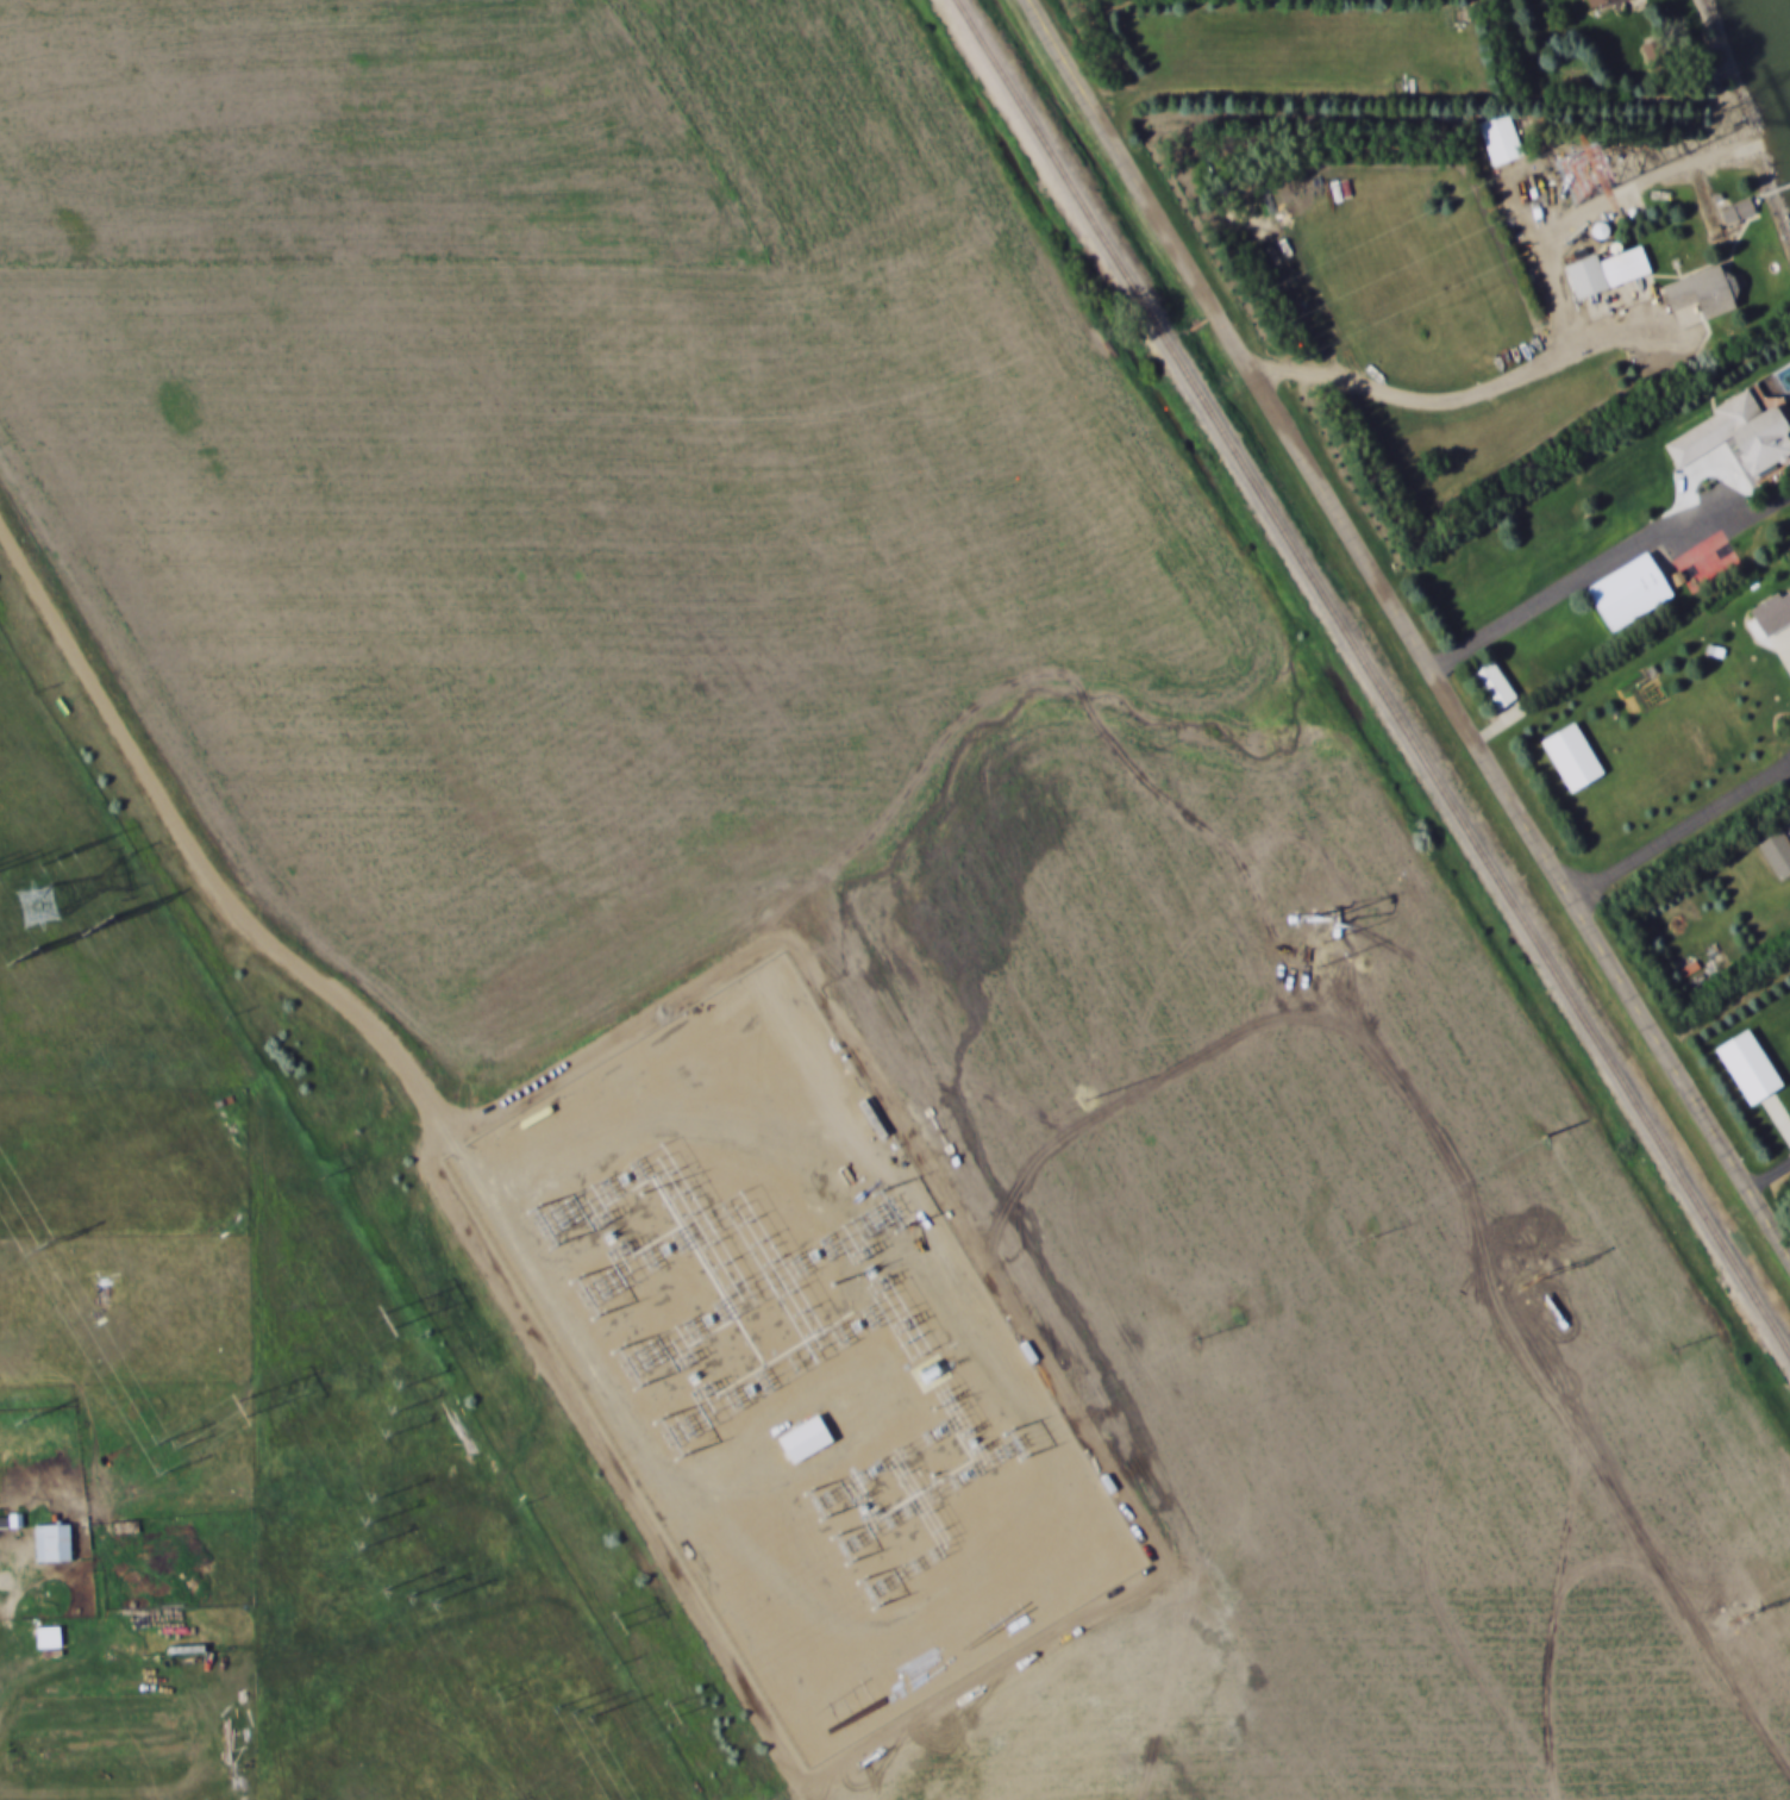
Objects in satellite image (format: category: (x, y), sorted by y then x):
building: (1601, 2)
building: (1660, 58)
road: (1282, 88)
building: (1502, 140)
power tower: (1592, 171)
building: (1741, 212)
building: (1609, 273)
building: (1707, 293)
road: (1471, 396)
building: (1741, 436)
road: (1584, 577)
building: (1633, 593)
building: (1775, 617)
road: (1408, 623)
railway: (1370, 685)
building: (1496, 687)
building: (1571, 758)
road: (1683, 835)
building: (1777, 855)
power tower: (60, 856)
power tower: (40, 908)
power tower: (101, 929)
power tower: (26, 960)
road: (1730, 1014)
building: (1747, 1068)
power tower: (1547, 1139)
power tower: (43, 1248)
power tower: (388, 1317)
power substation: (794, 1363)
power tower: (243, 1406)
power tower: (394, 1413)
power tower: (31, 1420)
building: (803, 1440)
power tower: (165, 1456)
power tower: (367, 1524)
building: (55, 1543)
power tower: (411, 1599)
power tower: (620, 1623)
road: (10, 1625)
power tower: (501, 1696)
power tower: (574, 1712)
power tower: (675, 1717)

